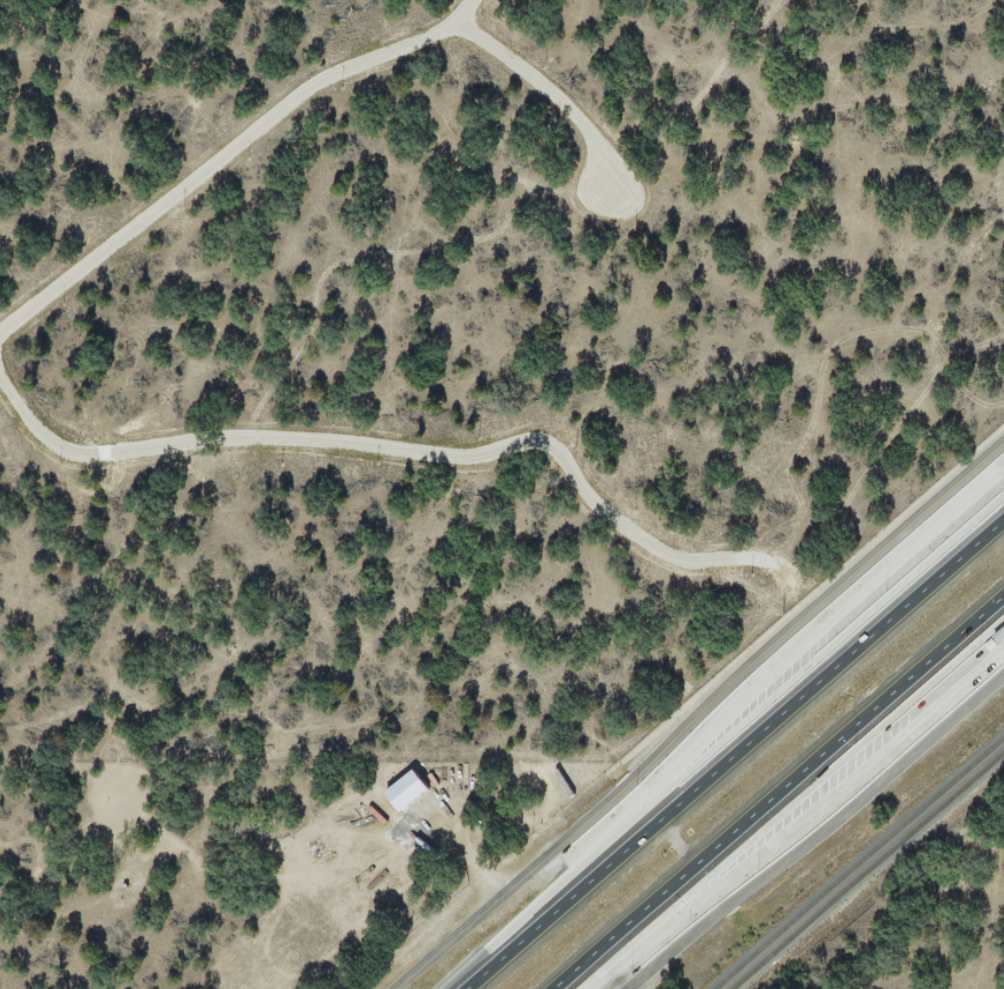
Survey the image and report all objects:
road: (857, 650)
road: (736, 678)
road: (908, 681)
building: (914, 726)
road: (838, 819)
railway: (857, 861)
railway: (869, 871)
road: (681, 876)
road: (588, 883)
road: (437, 955)
road: (647, 972)

